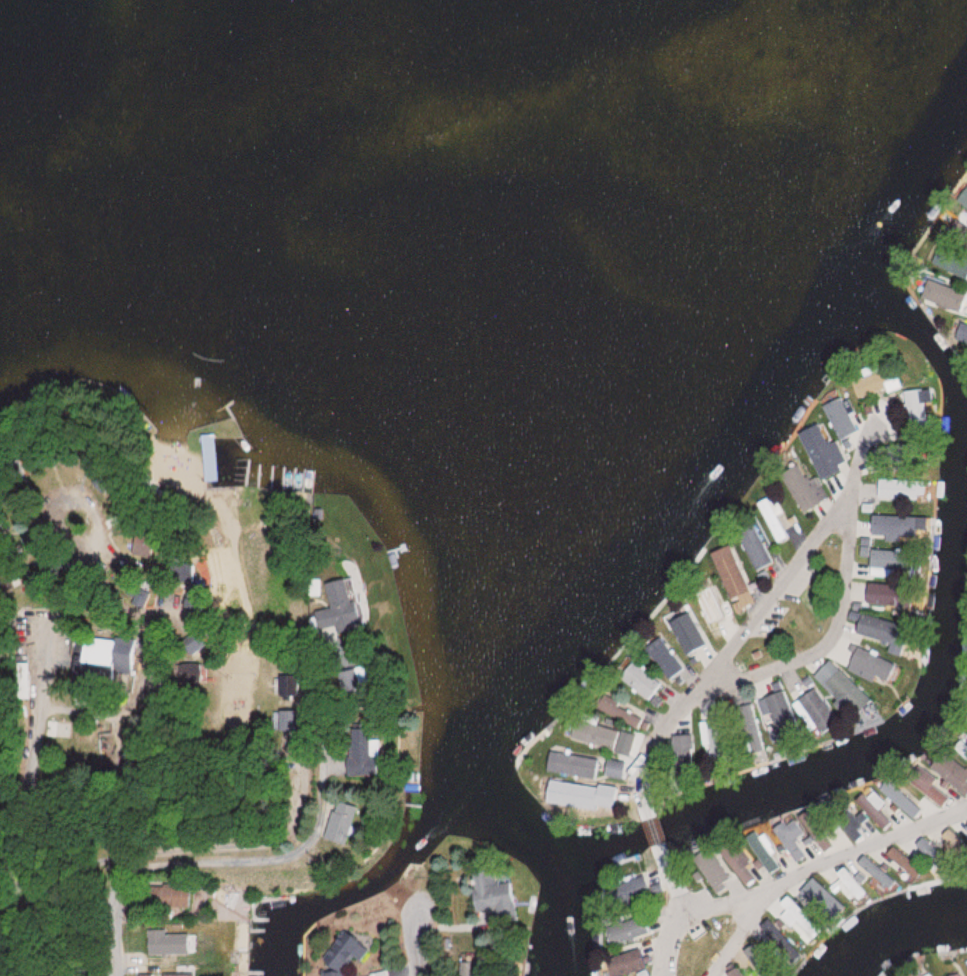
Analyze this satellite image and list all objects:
building: (957, 264)
building: (943, 295)
building: (874, 382)
building: (921, 400)
building: (841, 416)
building: (824, 455)
building: (214, 457)
building: (802, 488)
building: (774, 519)
building: (754, 546)
building: (729, 571)
building: (325, 591)
building: (709, 603)
building: (354, 605)
road: (752, 619)
road: (829, 639)
building: (118, 650)
road: (10, 658)
building: (873, 662)
building: (295, 687)
building: (593, 734)
road: (320, 741)
building: (962, 744)
building: (368, 754)
building: (344, 767)
building: (579, 800)
building: (351, 822)
building: (852, 830)
road: (658, 837)
building: (791, 838)
building: (824, 842)
road: (21, 847)
building: (592, 849)
building: (764, 850)
road: (828, 862)
road: (153, 863)
building: (740, 866)
building: (711, 871)
road: (677, 888)
building: (620, 889)
building: (493, 892)
building: (791, 913)
building: (626, 929)
road: (743, 932)
road: (668, 940)
building: (174, 942)
road: (420, 944)
building: (353, 952)
building: (624, 962)
building: (916, 973)
building: (182, 975)
building: (953, 975)

